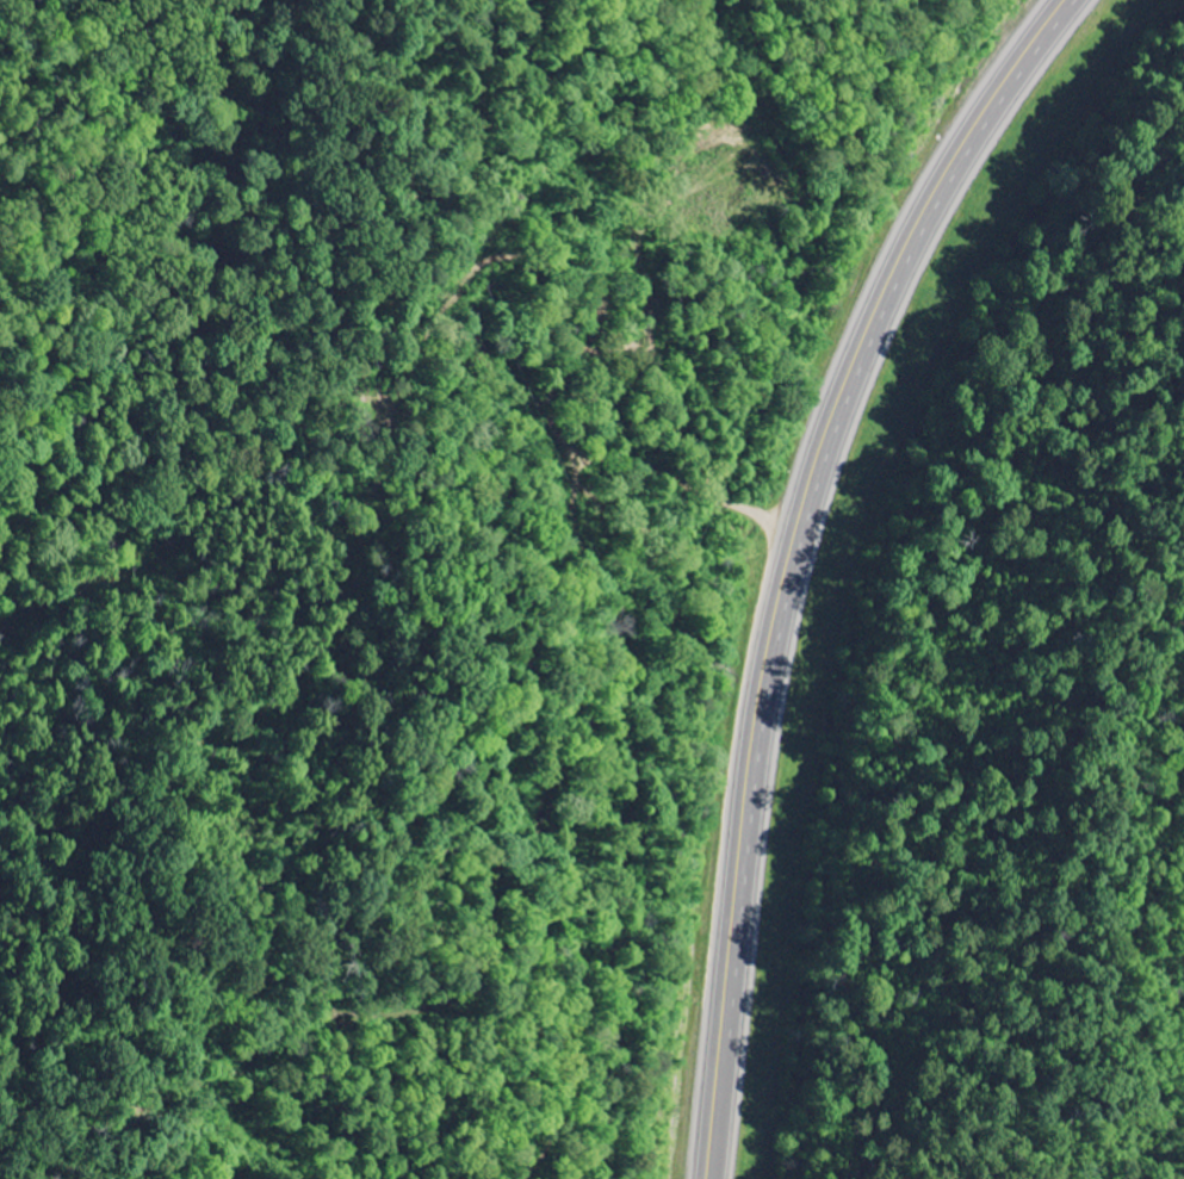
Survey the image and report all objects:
road: (798, 554)
road: (481, 623)

